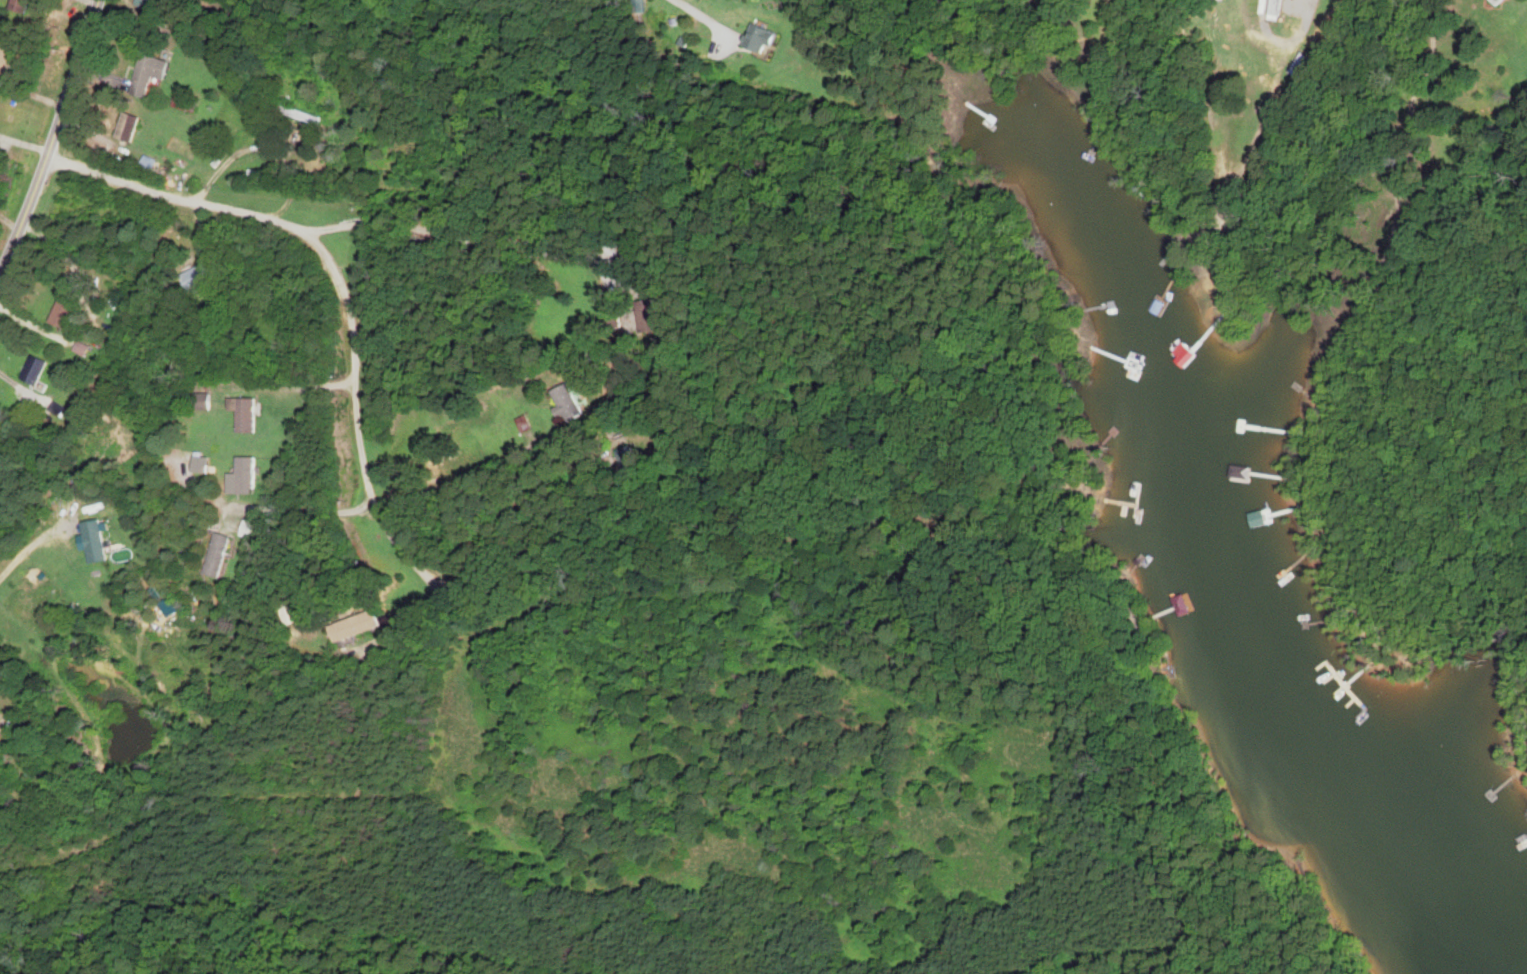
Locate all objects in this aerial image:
building: (1493, 2)
building: (24, 6)
building: (1270, 7)
building: (187, 20)
building: (1324, 25)
building: (766, 38)
building: (8, 59)
building: (1300, 68)
building: (154, 74)
building: (187, 104)
building: (305, 116)
building: (132, 127)
road: (54, 141)
road: (263, 144)
building: (152, 166)
road: (460, 232)
building: (202, 275)
road: (341, 285)
building: (65, 312)
building: (639, 318)
building: (37, 369)
building: (203, 401)
building: (571, 402)
building: (248, 412)
building: (204, 464)
road: (485, 465)
building: (247, 475)
road: (301, 509)
building: (252, 528)
building: (98, 540)
road: (31, 546)
building: (222, 553)
building: (1179, 602)
building: (358, 625)
building: (4, 686)

